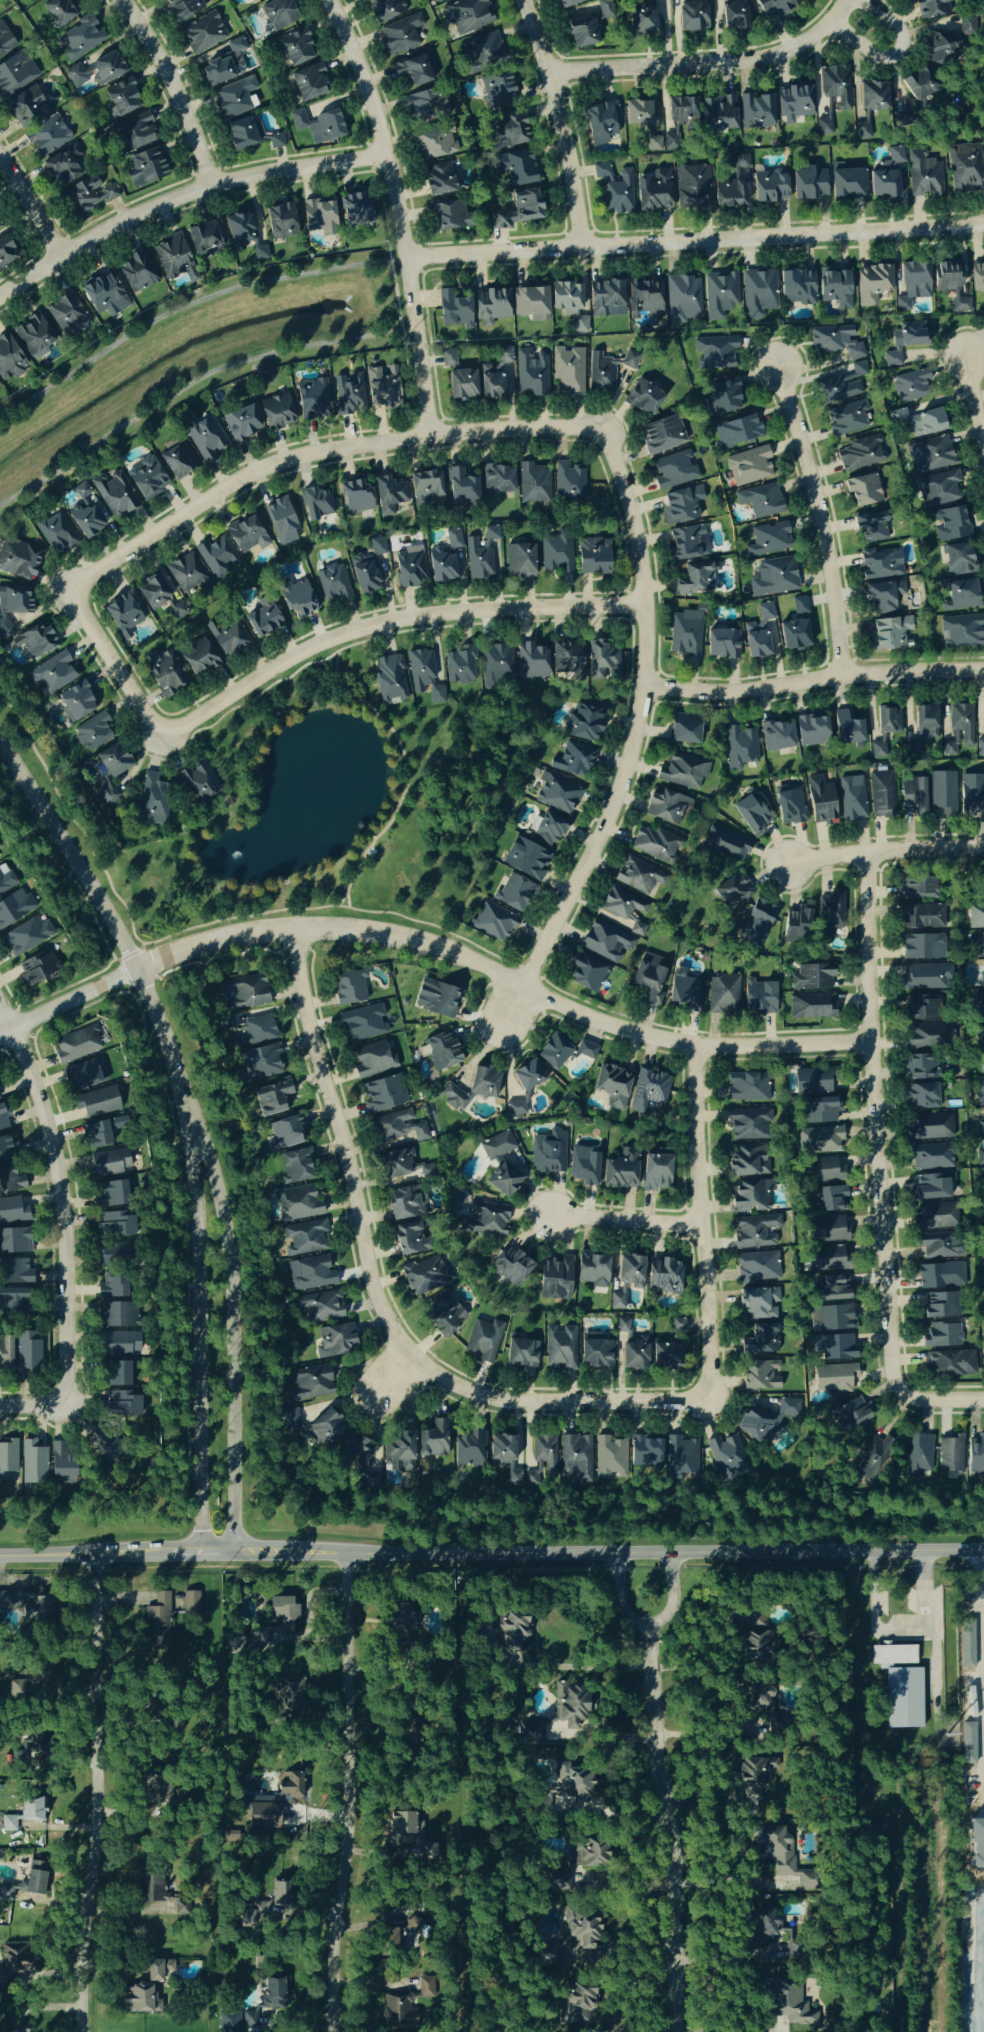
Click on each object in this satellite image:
building: (31, 0)
building: (250, 1)
building: (437, 1)
building: (568, 3)
road: (844, 6)
building: (388, 8)
building: (772, 8)
building: (933, 8)
building: (983, 8)
building: (183, 9)
building: (606, 9)
building: (59, 11)
building: (278, 14)
building: (732, 14)
building: (467, 15)
building: (692, 16)
building: (642, 18)
road: (884, 20)
building: (968, 26)
building: (203, 33)
building: (581, 33)
building: (401, 35)
building: (81, 39)
building: (5, 42)
road: (863, 47)
building: (941, 47)
building: (295, 49)
building: (484, 51)
road: (700, 61)
building: (225, 65)
building: (413, 71)
building: (95, 72)
building: (15, 75)
building: (309, 82)
building: (919, 85)
building: (836, 86)
road: (171, 89)
building: (498, 91)
building: (873, 97)
building: (234, 98)
building: (121, 99)
building: (794, 103)
building: (427, 106)
building: (25, 107)
building: (756, 112)
building: (637, 113)
building: (718, 114)
building: (678, 118)
road: (558, 121)
building: (601, 123)
building: (318, 126)
building: (507, 131)
building: (133, 134)
building: (240, 135)
building: (47, 137)
building: (276, 141)
building: (435, 142)
building: (654, 143)
building: (983, 153)
building: (62, 167)
building: (145, 168)
building: (515, 168)
building: (966, 169)
building: (601, 171)
building: (922, 175)
building: (887, 177)
building: (439, 179)
building: (846, 183)
building: (809, 185)
building: (692, 187)
building: (733, 187)
building: (770, 187)
building: (654, 193)
building: (619, 194)
building: (87, 195)
road: (179, 195)
road: (380, 207)
road: (28, 209)
building: (355, 210)
building: (517, 210)
road: (392, 213)
building: (319, 216)
building: (449, 216)
building: (280, 222)
building: (0, 228)
building: (239, 228)
building: (204, 237)
road: (692, 241)
building: (260, 254)
building: (171, 257)
building: (136, 272)
building: (947, 276)
building: (977, 277)
building: (872, 284)
building: (913, 285)
building: (797, 288)
building: (835, 288)
building: (758, 293)
building: (720, 295)
building: (104, 296)
road: (393, 296)
building: (566, 298)
building: (606, 299)
building: (645, 299)
building: (684, 299)
building: (531, 303)
building: (962, 305)
road: (181, 307)
building: (491, 307)
building: (454, 310)
building: (66, 315)
building: (580, 324)
building: (33, 337)
building: (905, 341)
building: (837, 342)
building: (715, 353)
building: (448, 358)
building: (9, 360)
building: (607, 370)
building: (568, 372)
building: (532, 374)
building: (498, 376)
building: (461, 384)
road: (406, 385)
building: (843, 385)
building: (911, 386)
building: (382, 387)
road: (185, 388)
building: (349, 394)
road: (975, 397)
building: (643, 398)
building: (313, 399)
building: (276, 411)
building: (847, 419)
building: (241, 422)
building: (738, 431)
building: (662, 435)
building: (205, 437)
building: (931, 453)
building: (861, 454)
road: (317, 455)
building: (177, 460)
building: (750, 467)
building: (674, 470)
building: (146, 478)
building: (498, 480)
building: (569, 483)
building: (534, 484)
building: (425, 487)
building: (462, 488)
building: (938, 488)
building: (863, 490)
building: (114, 493)
building: (389, 494)
building: (356, 497)
building: (761, 501)
building: (316, 504)
building: (681, 505)
building: (83, 513)
road: (817, 515)
building: (281, 521)
building: (950, 524)
building: (871, 527)
building: (56, 533)
building: (246, 535)
building: (453, 539)
building: (769, 540)
building: (687, 542)
building: (482, 554)
building: (557, 555)
building: (217, 556)
building: (593, 557)
building: (17, 559)
building: (958, 559)
building: (520, 560)
building: (881, 564)
building: (369, 567)
building: (409, 567)
building: (186, 572)
building: (774, 577)
building: (694, 580)
building: (332, 583)
building: (153, 591)
building: (960, 595)
building: (884, 597)
building: (15, 600)
building: (297, 600)
building: (124, 613)
road: (384, 619)
building: (262, 620)
building: (796, 627)
building: (961, 631)
building: (758, 632)
building: (891, 633)
building: (686, 634)
building: (35, 642)
building: (722, 644)
building: (214, 646)
building: (531, 661)
building: (569, 661)
building: (602, 661)
road: (113, 664)
building: (460, 665)
building: (497, 665)
building: (166, 673)
building: (52, 674)
building: (425, 675)
building: (390, 677)
road: (811, 678)
building: (73, 705)
building: (583, 723)
building: (883, 727)
building: (924, 728)
building: (685, 729)
building: (959, 729)
building: (812, 730)
building: (847, 730)
building: (93, 732)
building: (777, 736)
road: (631, 743)
building: (740, 747)
building: (980, 747)
building: (113, 760)
building: (573, 760)
building: (683, 771)
building: (197, 783)
building: (881, 794)
building: (944, 794)
building: (558, 795)
building: (971, 795)
building: (912, 797)
building: (852, 798)
building: (153, 800)
building: (820, 801)
building: (790, 806)
building: (667, 807)
park: (331, 809)
building: (753, 813)
building: (549, 829)
building: (657, 844)
building: (726, 844)
road: (881, 853)
building: (525, 859)
building: (640, 875)
building: (7, 882)
building: (729, 888)
building: (983, 888)
building: (917, 889)
building: (513, 894)
building: (14, 906)
building: (624, 912)
building: (830, 915)
building: (976, 916)
building: (922, 917)
road: (111, 921)
building: (493, 922)
building: (757, 924)
building: (795, 927)
building: (26, 936)
building: (607, 942)
road: (435, 945)
building: (980, 945)
building: (923, 947)
building: (587, 973)
building: (649, 977)
building: (925, 977)
building: (812, 978)
building: (349, 987)
building: (684, 994)
building: (723, 994)
building: (242, 995)
building: (759, 997)
building: (436, 998)
building: (980, 1004)
building: (811, 1007)
building: (920, 1008)
building: (363, 1023)
building: (256, 1031)
building: (980, 1033)
building: (928, 1036)
building: (75, 1045)
building: (584, 1050)
building: (442, 1051)
building: (553, 1052)
building: (373, 1061)
building: (261, 1063)
building: (923, 1067)
building: (84, 1075)
building: (813, 1081)
building: (521, 1086)
building: (612, 1086)
building: (747, 1088)
building: (472, 1089)
building: (649, 1090)
building: (981, 1093)
building: (384, 1094)
building: (271, 1096)
building: (921, 1097)
building: (96, 1103)
building: (820, 1110)
building: (3, 1118)
building: (748, 1124)
building: (398, 1127)
building: (930, 1127)
building: (980, 1128)
road: (876, 1129)
building: (106, 1131)
building: (284, 1133)
building: (820, 1140)
building: (7, 1147)
building: (549, 1153)
building: (981, 1153)
building: (931, 1157)
building: (109, 1162)
building: (394, 1164)
building: (500, 1164)
building: (748, 1164)
building: (297, 1166)
building: (584, 1167)
building: (428, 1170)
building: (821, 1170)
building: (620, 1171)
building: (656, 1173)
building: (11, 1180)
building: (931, 1187)
building: (108, 1194)
building: (751, 1196)
building: (832, 1199)
building: (298, 1203)
road: (55, 1204)
building: (405, 1204)
building: (12, 1211)
building: (936, 1216)
road: (623, 1219)
building: (485, 1220)
road: (702, 1224)
building: (114, 1225)
building: (825, 1230)
building: (756, 1232)
building: (304, 1238)
building: (408, 1239)
building: (14, 1241)
building: (941, 1246)
building: (114, 1254)
building: (826, 1259)
building: (511, 1266)
building: (757, 1267)
building: (592, 1270)
building: (14, 1272)
building: (310, 1274)
building: (664, 1276)
building: (941, 1276)
building: (423, 1277)
building: (555, 1278)
building: (627, 1279)
building: (111, 1287)
building: (831, 1289)
road: (374, 1300)
building: (14, 1302)
building: (760, 1303)
building: (318, 1306)
building: (939, 1306)
building: (119, 1316)
building: (445, 1317)
building: (832, 1319)
building: (677, 1325)
road: (233, 1330)
road: (199, 1333)
building: (942, 1336)
building: (333, 1341)
building: (484, 1341)
building: (760, 1341)
building: (118, 1344)
building: (560, 1348)
building: (630, 1348)
building: (834, 1348)
building: (595, 1352)
building: (25, 1353)
building: (522, 1353)
building: (983, 1353)
building: (5, 1354)
building: (666, 1356)
building: (951, 1364)
road: (383, 1371)
building: (115, 1375)
building: (759, 1376)
building: (834, 1378)
building: (312, 1382)
road: (945, 1396)
building: (120, 1405)
road: (32, 1407)
building: (789, 1408)
building: (754, 1426)
building: (325, 1427)
building: (308, 1436)
building: (432, 1440)
building: (469, 1450)
building: (644, 1452)
building: (399, 1453)
building: (502, 1453)
building: (919, 1454)
building: (951, 1456)
building: (975, 1456)
building: (727, 1457)
building: (575, 1458)
building: (610, 1458)
building: (682, 1458)
building: (543, 1462)
building: (8, 1463)
building: (32, 1464)
building: (59, 1465)
building: (370, 1481)
road: (491, 1550)
building: (191, 1602)
building: (24, 1610)
building: (282, 1614)
road: (306, 1616)
building: (159, 1618)
road: (647, 1620)
building: (404, 1624)
building: (512, 1632)
building: (893, 1655)
road: (983, 1661)
road: (583, 1665)
building: (753, 1694)
building: (904, 1698)
building: (570, 1705)
road: (702, 1729)
building: (26, 1747)
building: (756, 1773)
building: (573, 1785)
building: (291, 1786)
road: (350, 1791)
road: (100, 1792)
building: (10, 1823)
road: (668, 1825)
building: (405, 1829)
building: (426, 1841)
building: (780, 1855)
building: (580, 1864)
road: (726, 1876)
building: (34, 1877)
building: (777, 1884)
building: (6, 1891)
building: (158, 1896)
building: (268, 1897)
building: (759, 1922)
building: (581, 1939)
road: (723, 1954)
building: (159, 1971)
building: (274, 1993)
building: (140, 1999)
building: (789, 2004)
building: (577, 2006)
building: (404, 2007)
building: (236, 2022)
road: (698, 2028)
road: (773, 2028)

